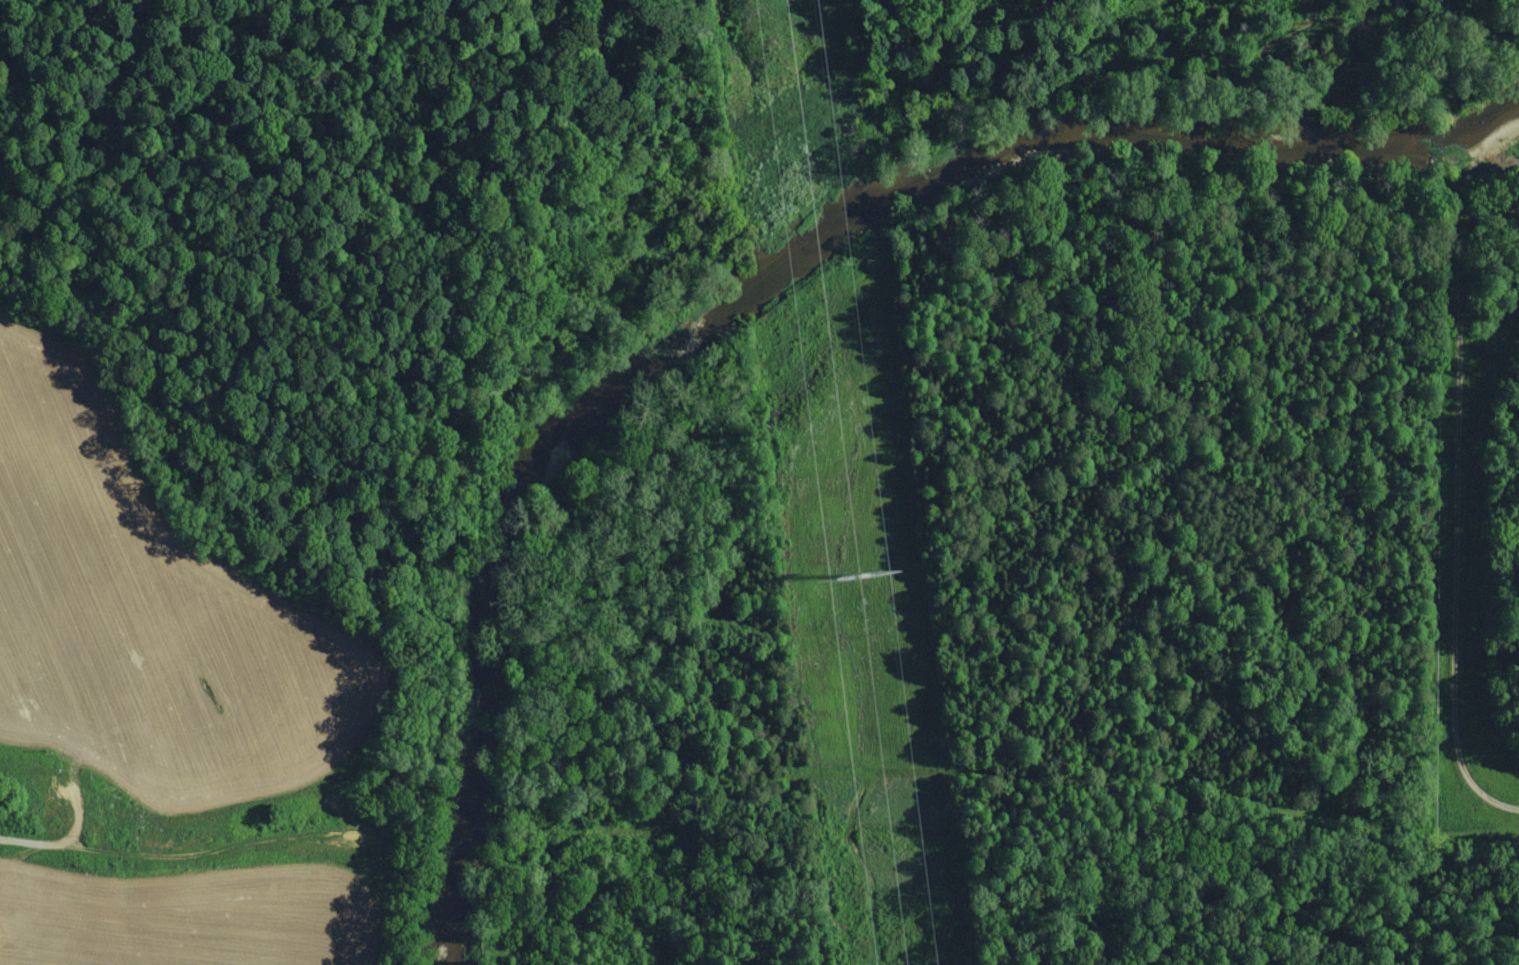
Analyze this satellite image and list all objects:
road: (1453, 561)
power tower: (857, 577)
road: (54, 846)

